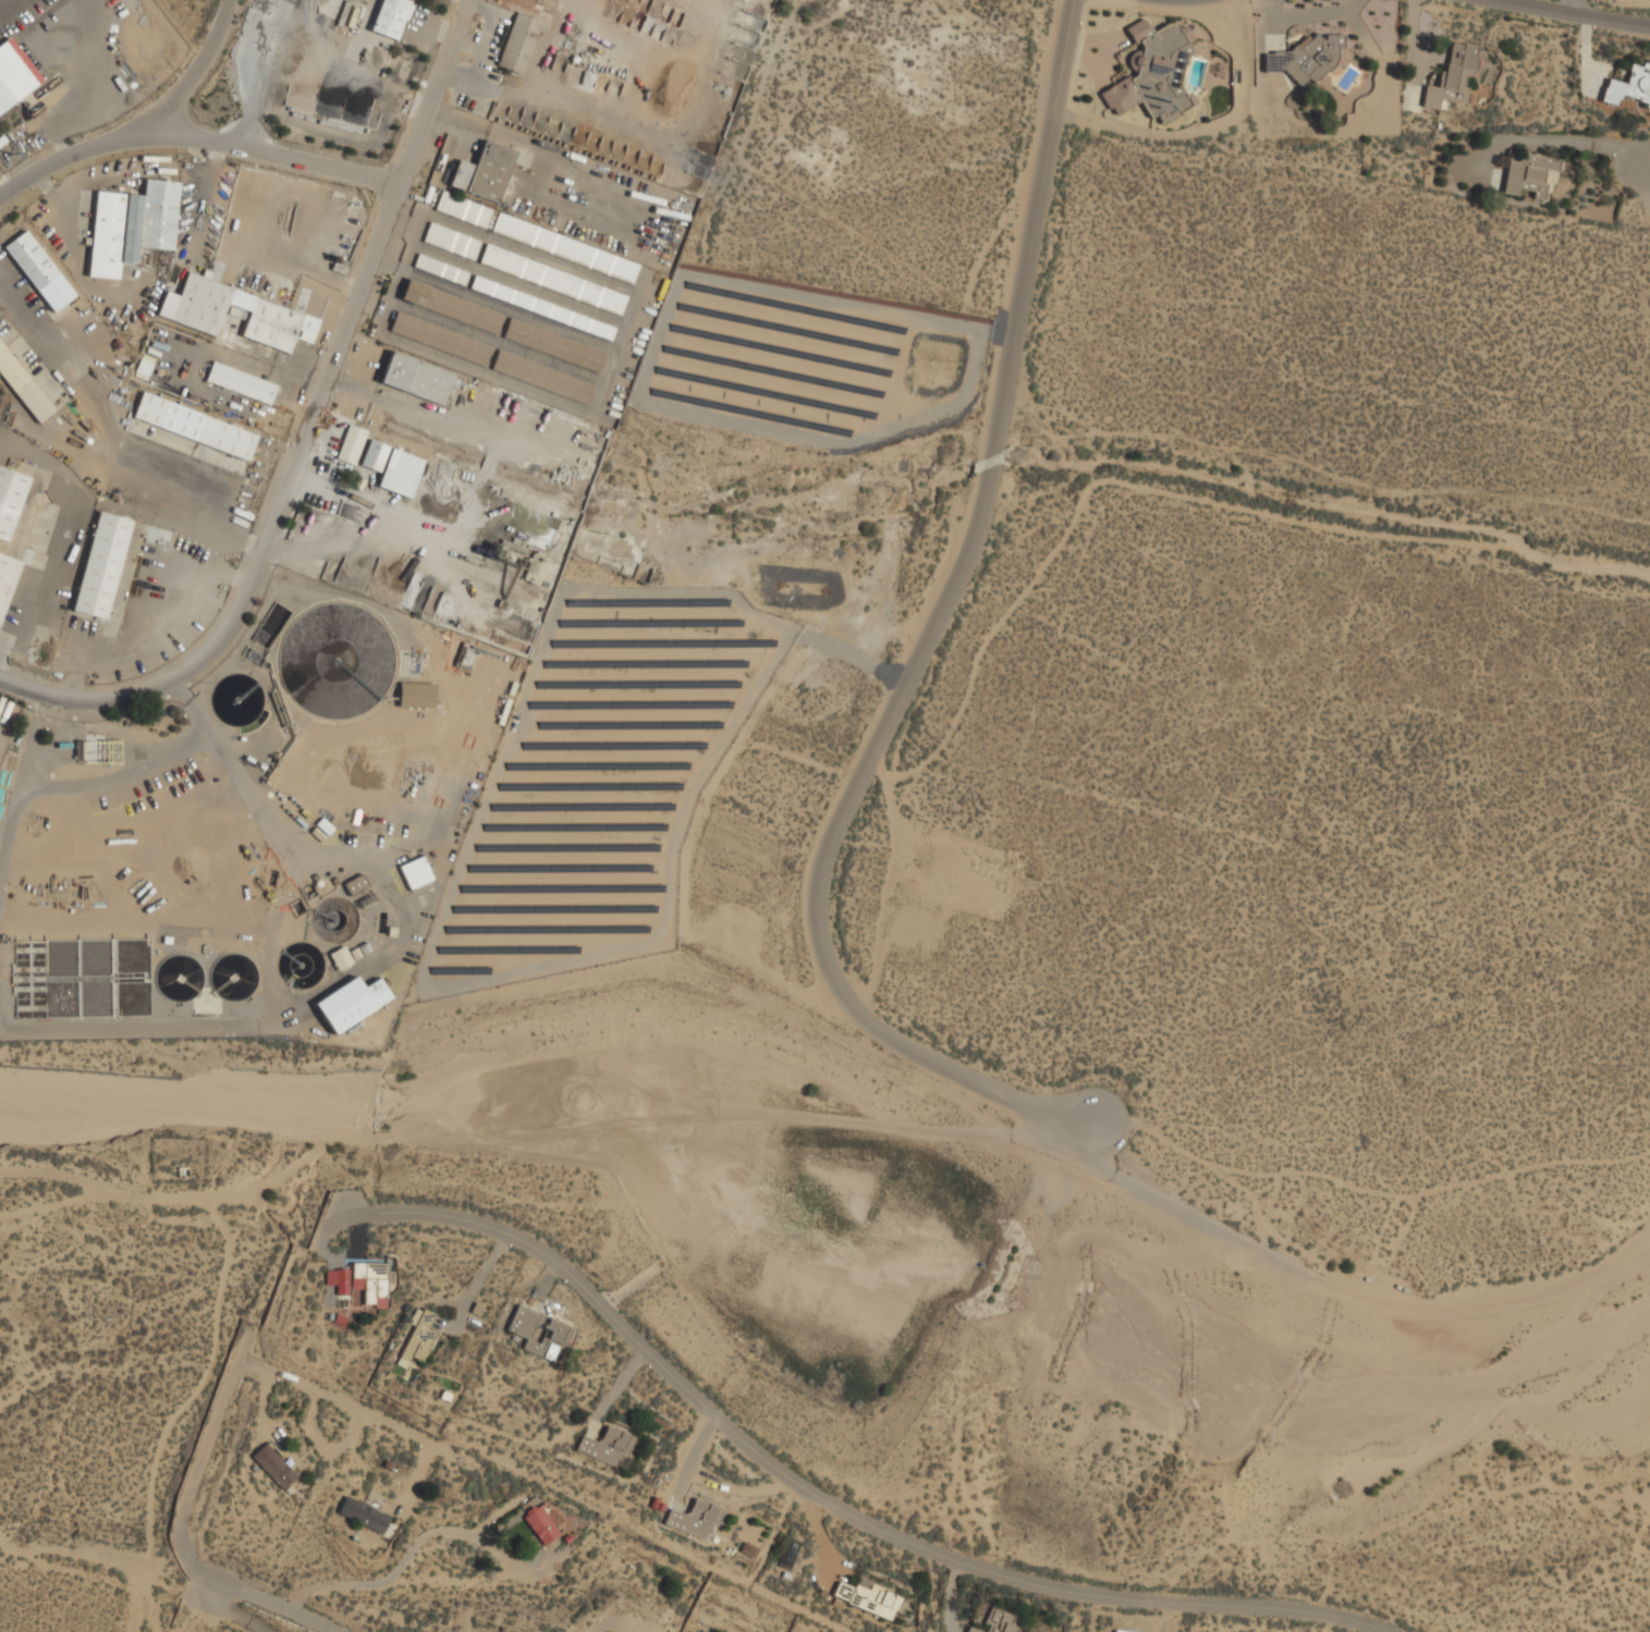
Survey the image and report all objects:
road: (1574, 3)
road: (1592, 11)
building: (390, 17)
building: (518, 44)
building: (1303, 59)
road: (205, 64)
building: (1152, 73)
building: (14, 74)
building: (1453, 76)
building: (1629, 86)
road: (193, 132)
road: (1648, 137)
building: (484, 172)
building: (1529, 174)
building: (463, 209)
building: (131, 225)
building: (451, 241)
building: (38, 270)
building: (530, 304)
building: (452, 307)
building: (190, 314)
building: (440, 339)
building: (554, 345)
building: (542, 377)
building: (419, 379)
building: (241, 382)
building: (23, 386)
building: (194, 426)
road: (308, 432)
building: (351, 444)
building: (374, 457)
building: (400, 473)
building: (10, 500)
building: (101, 565)
building: (7, 578)
road: (928, 647)
building: (416, 695)
building: (91, 751)
building: (416, 872)
building: (355, 884)
building: (340, 958)
building: (351, 1003)
river: (839, 1199)
road: (399, 1208)
building: (342, 1281)
building: (371, 1281)
building: (554, 1334)
building: (417, 1339)
road: (322, 1395)
building: (608, 1446)
road: (201, 1453)
building: (274, 1467)
building: (363, 1514)
building: (696, 1519)
building: (541, 1525)
road: (883, 1532)
building: (749, 1550)
road: (254, 1598)
building: (868, 1598)
road: (227, 1612)
building: (998, 1622)
building: (608, 1631)
building: (1120, 1631)

